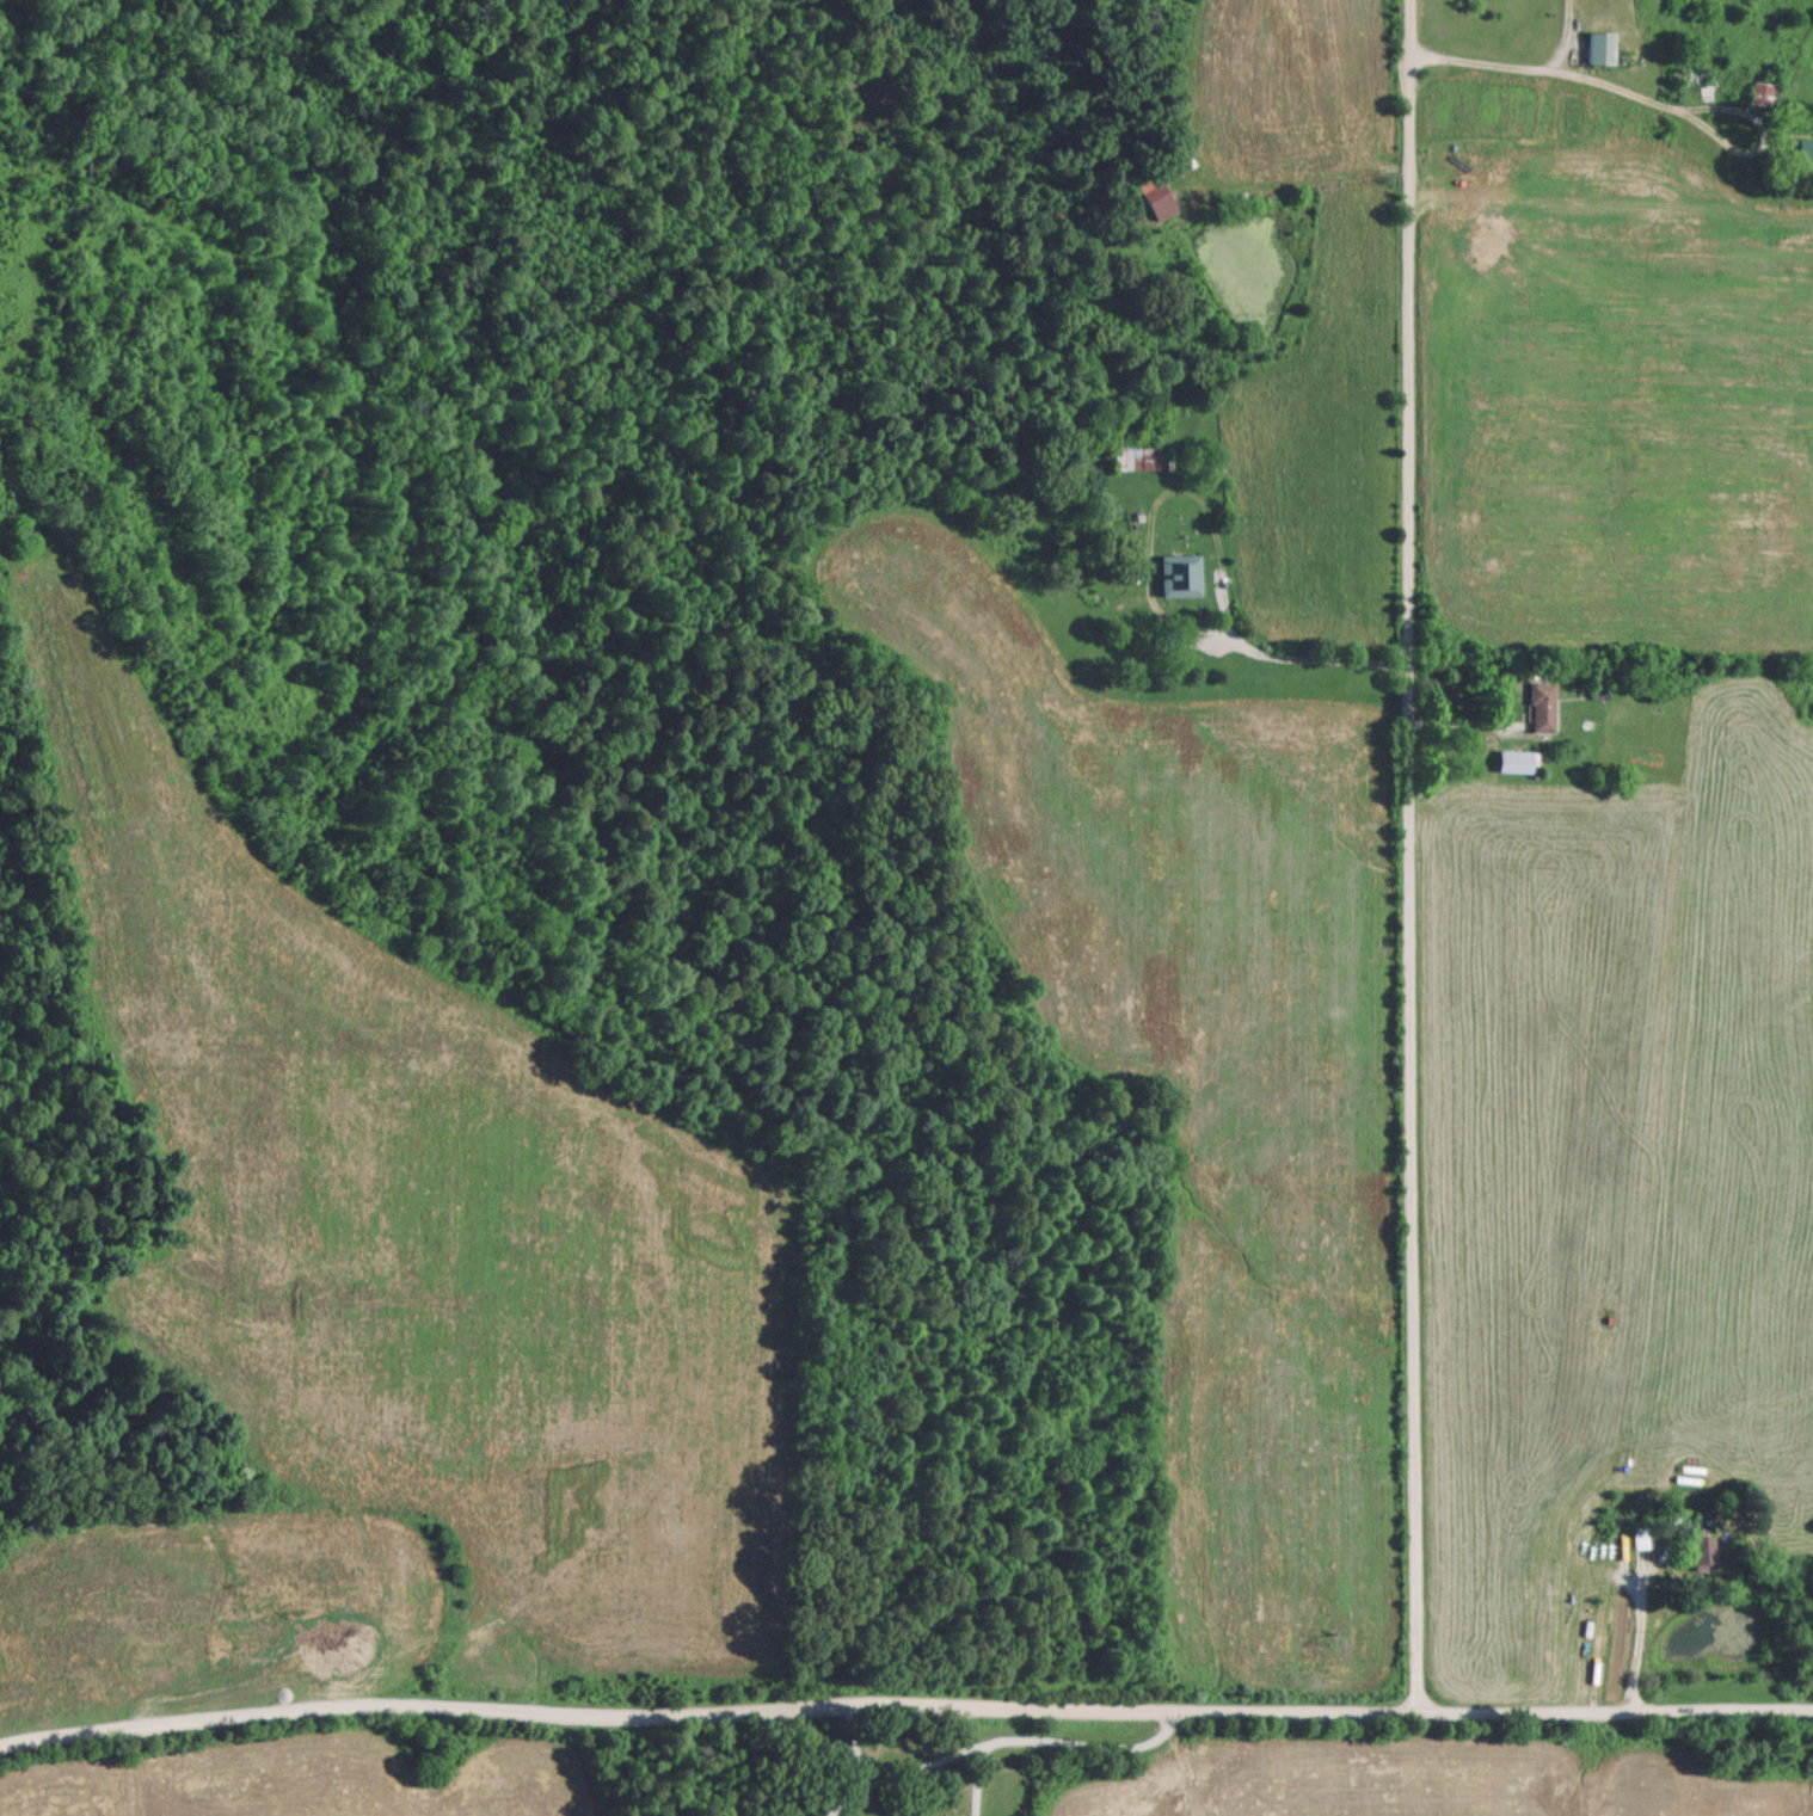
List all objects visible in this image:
building: (1597, 45)
building: (1691, 76)
road: (1610, 80)
building: (1763, 94)
building: (1802, 148)
building: (1154, 196)
building: (1135, 454)
building: (1176, 574)
building: (1168, 641)
road: (1291, 660)
building: (1539, 706)
road: (1465, 726)
building: (1512, 759)
road: (1406, 855)
building: (1637, 1538)
building: (1700, 1549)
road: (1637, 1639)
road: (904, 1705)
road: (854, 1743)
road: (1086, 1744)
park: (909, 1769)
road: (896, 1772)
road: (973, 1780)

